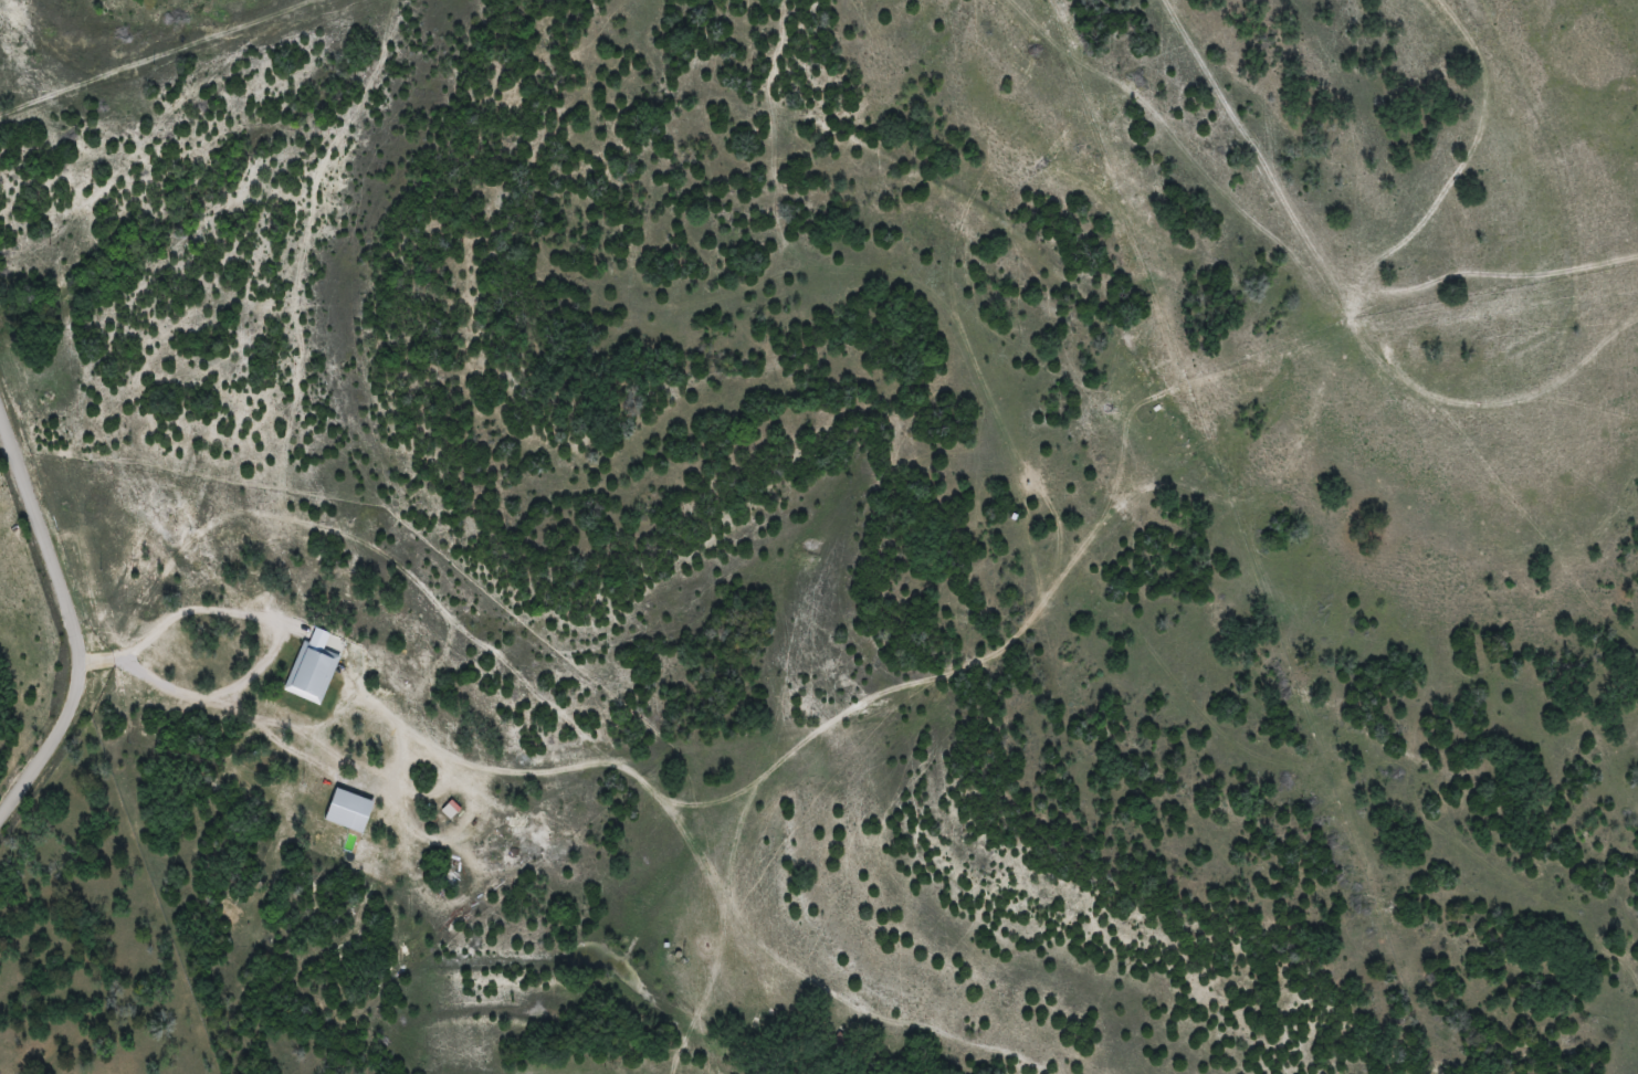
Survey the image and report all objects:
road: (62, 633)
building: (309, 671)

